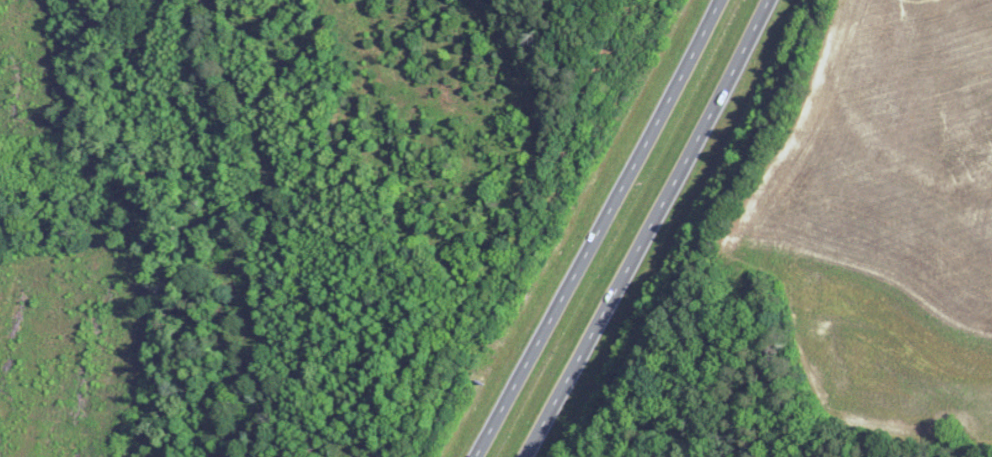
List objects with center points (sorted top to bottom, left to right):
road: (599, 229)
road: (649, 229)

